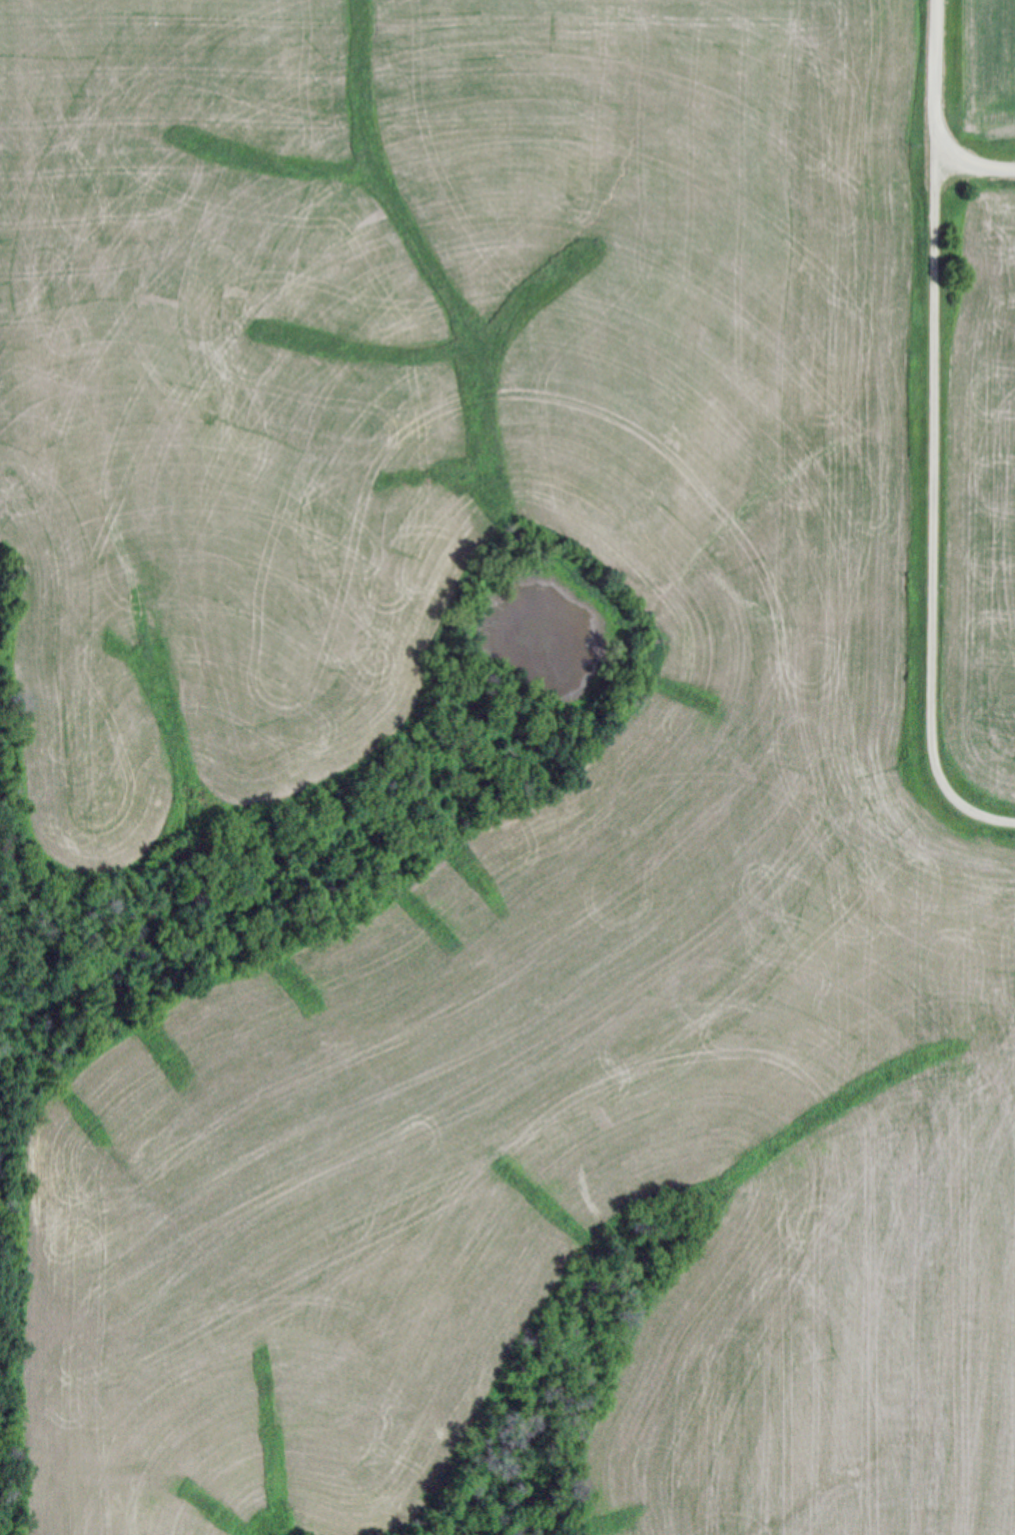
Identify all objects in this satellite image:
road: (976, 170)
road: (937, 435)
river: (547, 658)

